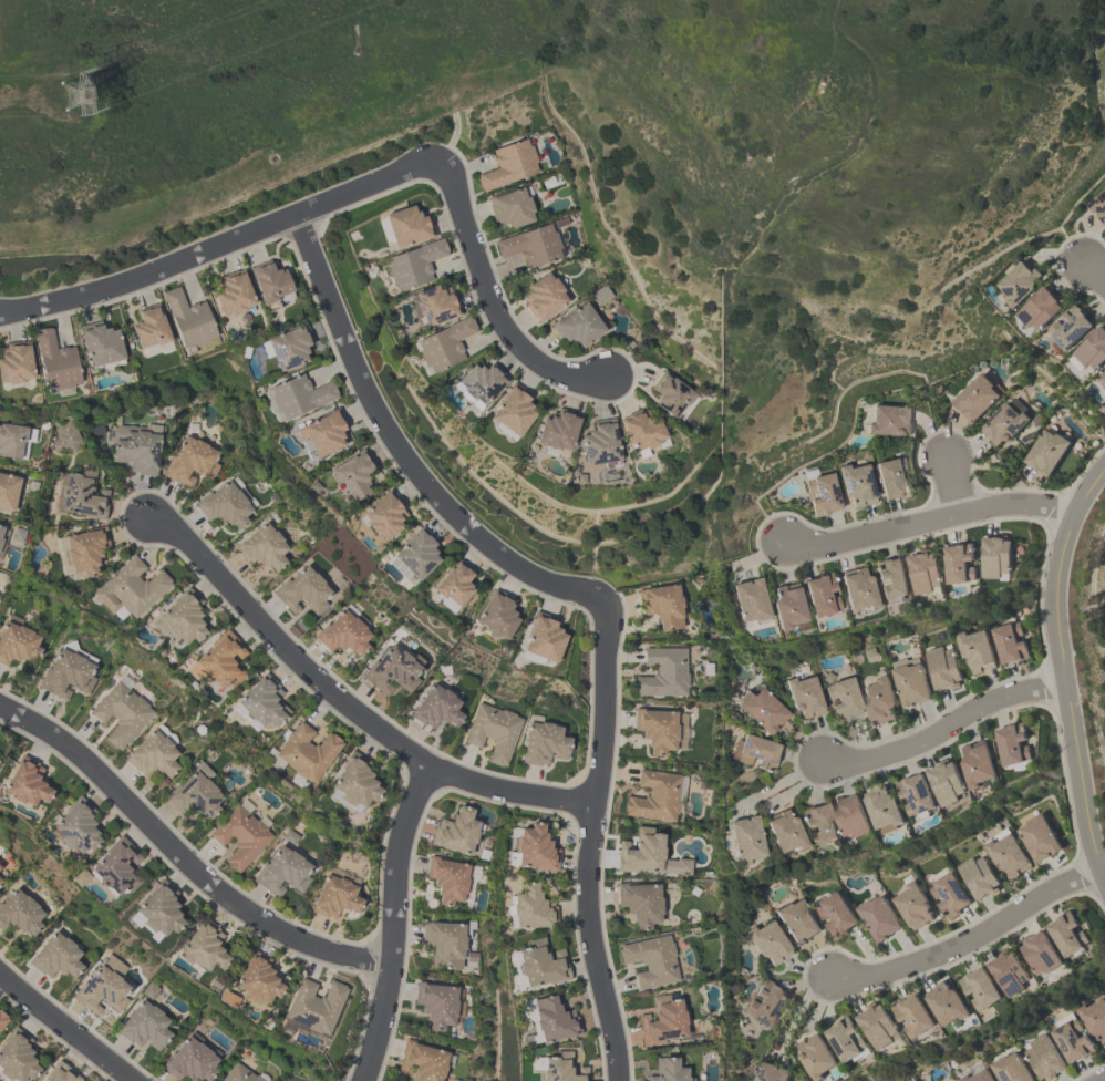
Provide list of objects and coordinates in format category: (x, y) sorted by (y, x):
park: (1099, 72)
road: (1104, 91)
power tower: (79, 95)
building: (507, 164)
building: (1098, 205)
building: (509, 206)
building: (405, 225)
road: (221, 241)
building: (530, 245)
building: (413, 264)
road: (1094, 274)
building: (268, 280)
building: (1018, 281)
building: (231, 292)
building: (601, 295)
building: (543, 297)
road: (492, 300)
building: (434, 303)
building: (1039, 307)
building: (188, 319)
building: (577, 325)
building: (1068, 326)
building: (148, 327)
building: (100, 342)
building: (443, 343)
building: (288, 346)
building: (1092, 347)
building: (14, 361)
building: (54, 361)
building: (1102, 375)
building: (479, 382)
building: (1104, 385)
building: (669, 393)
building: (298, 395)
building: (975, 397)
building: (513, 409)
building: (888, 420)
building: (1002, 423)
building: (557, 429)
building: (96, 430)
building: (641, 430)
building: (322, 433)
building: (64, 437)
building: (11, 440)
building: (599, 445)
building: (134, 447)
building: (1045, 451)
road: (402, 452)
building: (189, 462)
building: (351, 473)
building: (891, 478)
building: (856, 483)
road: (951, 484)
building: (7, 491)
building: (82, 494)
building: (820, 494)
building: (223, 505)
building: (381, 514)
road: (928, 519)
building: (0, 527)
building: (0, 539)
building: (261, 547)
building: (84, 549)
building: (414, 553)
building: (995, 556)
building: (959, 562)
building: (925, 570)
building: (890, 578)
building: (452, 585)
building: (130, 588)
building: (857, 588)
building: (301, 590)
building: (819, 594)
building: (748, 600)
building: (661, 605)
building: (786, 605)
building: (495, 614)
building: (180, 617)
building: (342, 634)
building: (541, 637)
building: (1008, 641)
building: (17, 642)
building: (974, 649)
building: (218, 661)
building: (942, 667)
building: (392, 670)
road: (1062, 670)
building: (661, 672)
building: (65, 673)
building: (910, 680)
building: (804, 696)
building: (843, 698)
building: (879, 699)
building: (262, 701)
road: (344, 701)
building: (435, 708)
building: (762, 710)
building: (120, 713)
building: (655, 729)
road: (943, 729)
building: (492, 731)
building: (541, 743)
building: (1012, 743)
building: (756, 751)
building: (306, 752)
building: (151, 754)
building: (978, 762)
building: (354, 781)
building: (946, 781)
building: (28, 784)
building: (194, 791)
building: (917, 794)
building: (653, 796)
building: (884, 806)
building: (851, 814)
building: (817, 824)
building: (79, 830)
building: (455, 831)
building: (783, 831)
building: (239, 836)
building: (289, 836)
building: (1037, 837)
building: (744, 838)
road: (592, 845)
building: (533, 848)
building: (640, 851)
building: (1008, 854)
road: (180, 858)
building: (2, 867)
building: (118, 871)
building: (281, 872)
building: (978, 876)
building: (446, 878)
building: (949, 894)
building: (333, 897)
building: (639, 903)
building: (912, 904)
building: (529, 907)
building: (835, 913)
building: (21, 914)
building: (159, 915)
building: (878, 916)
building: (796, 920)
road: (388, 923)
building: (1066, 933)
road: (970, 939)
building: (767, 941)
building: (444, 943)
building: (205, 950)
building: (1040, 951)
building: (58, 958)
building: (650, 960)
building: (539, 962)
building: (1008, 971)
building: (259, 982)
building: (980, 987)
building: (104, 992)
building: (947, 1002)
building: (435, 1003)
building: (765, 1003)
building: (316, 1006)
building: (913, 1015)
building: (1093, 1017)
building: (551, 1019)
building: (3, 1021)
building: (661, 1021)
road: (69, 1025)
building: (877, 1025)
building: (147, 1029)
building: (845, 1038)
building: (1071, 1040)
building: (815, 1056)
building: (1042, 1057)
building: (18, 1059)
building: (194, 1061)
building: (422, 1061)
building: (559, 1068)
building: (1009, 1069)
building: (668, 1070)
building: (771, 1072)
building: (240, 1074)
building: (61, 1075)
building: (977, 1075)
road: (1101, 1079)

